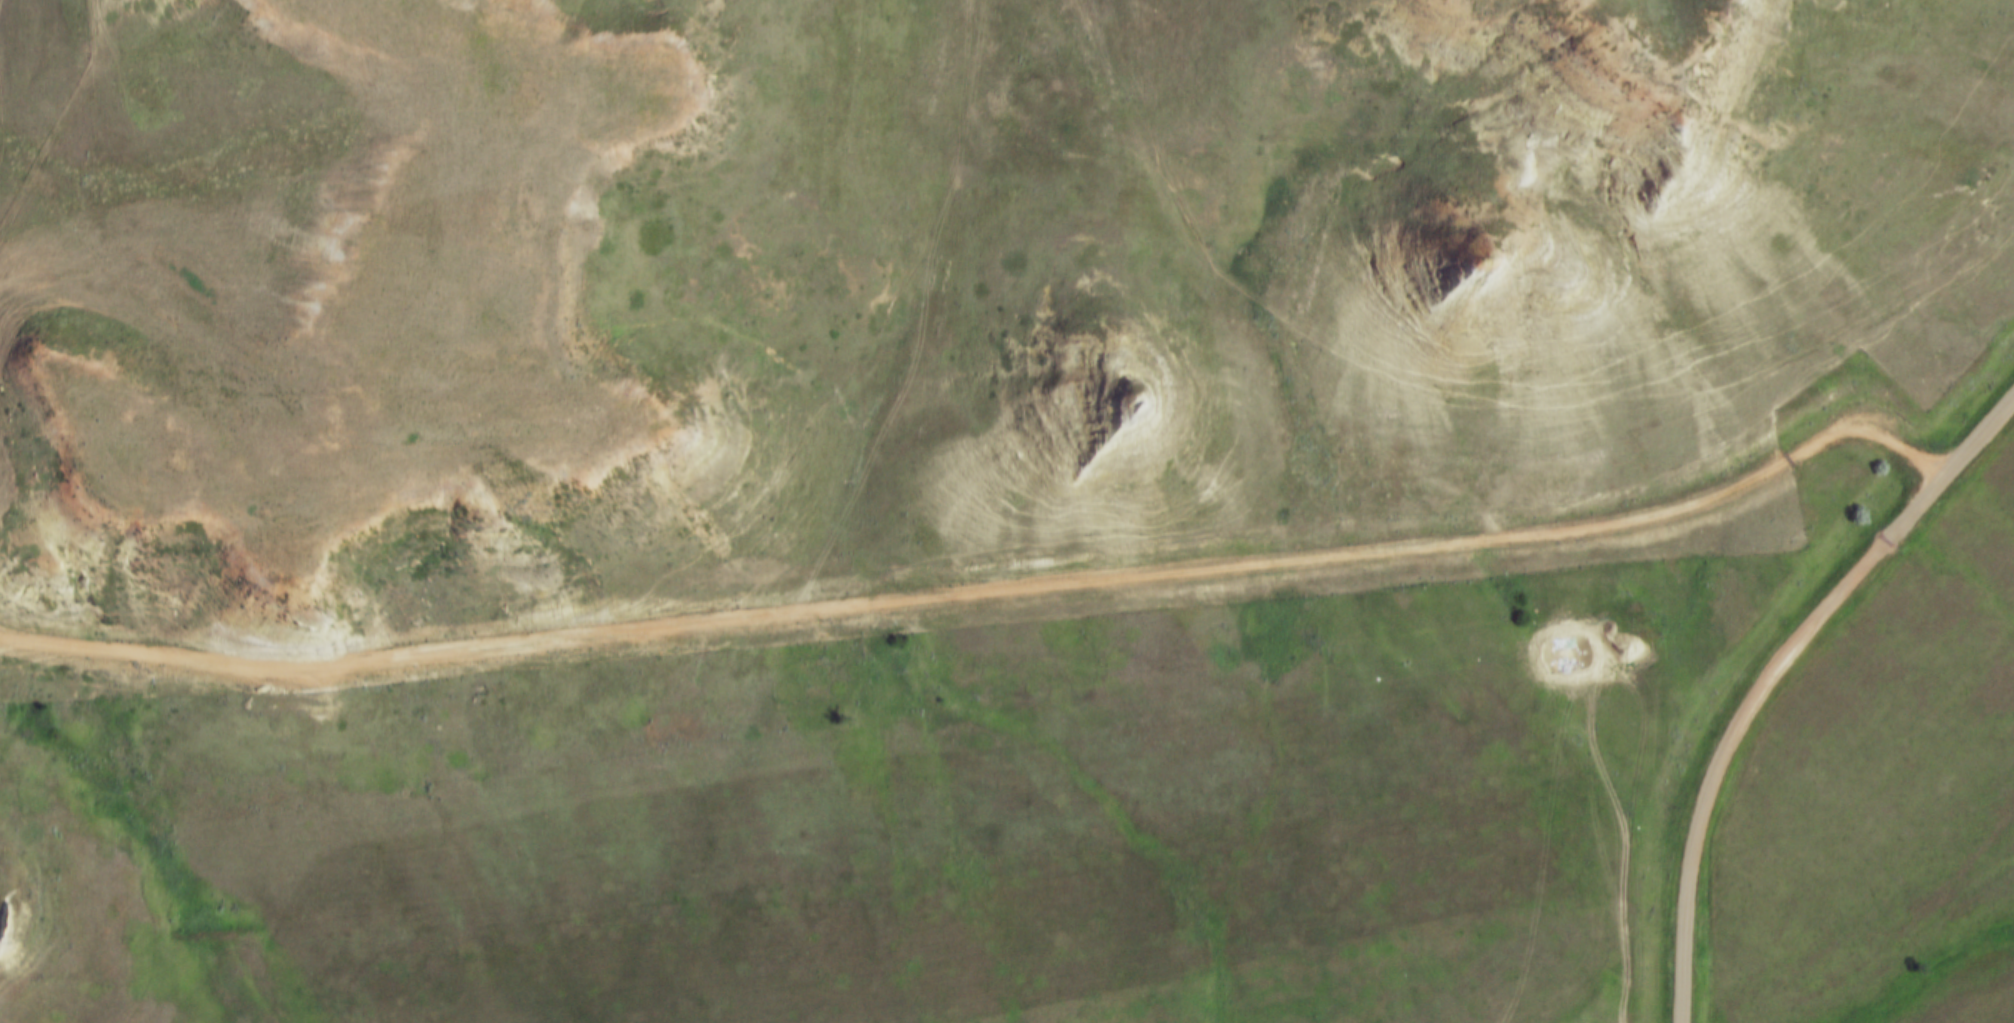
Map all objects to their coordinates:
road: (1776, 679)
road: (1632, 850)

